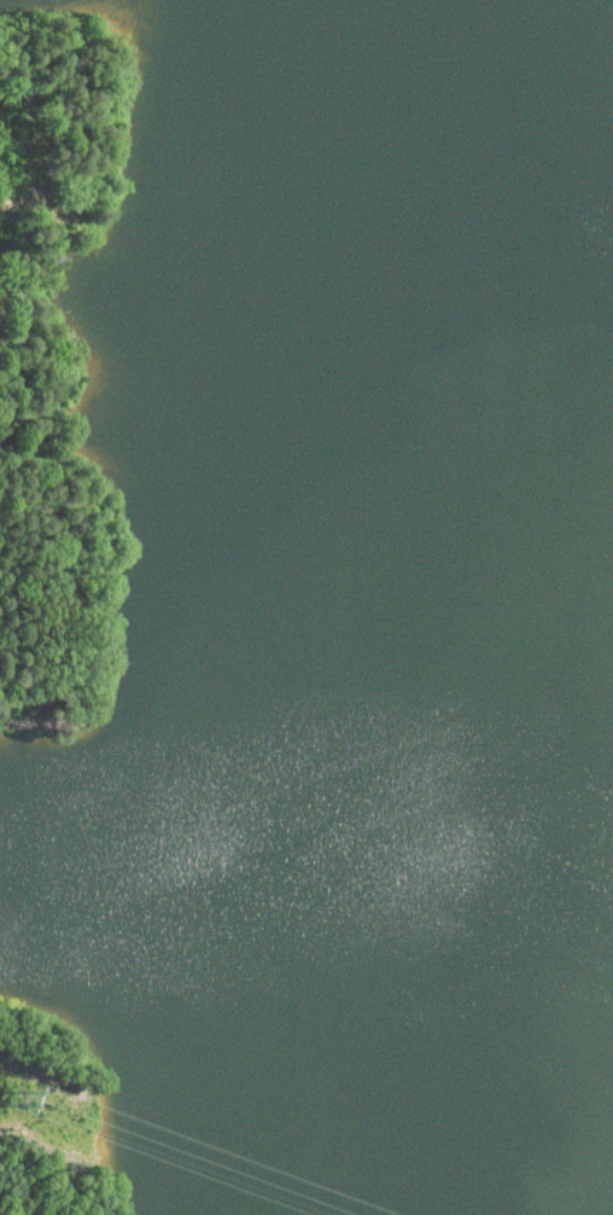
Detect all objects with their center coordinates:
power tower: (14, 1099)

